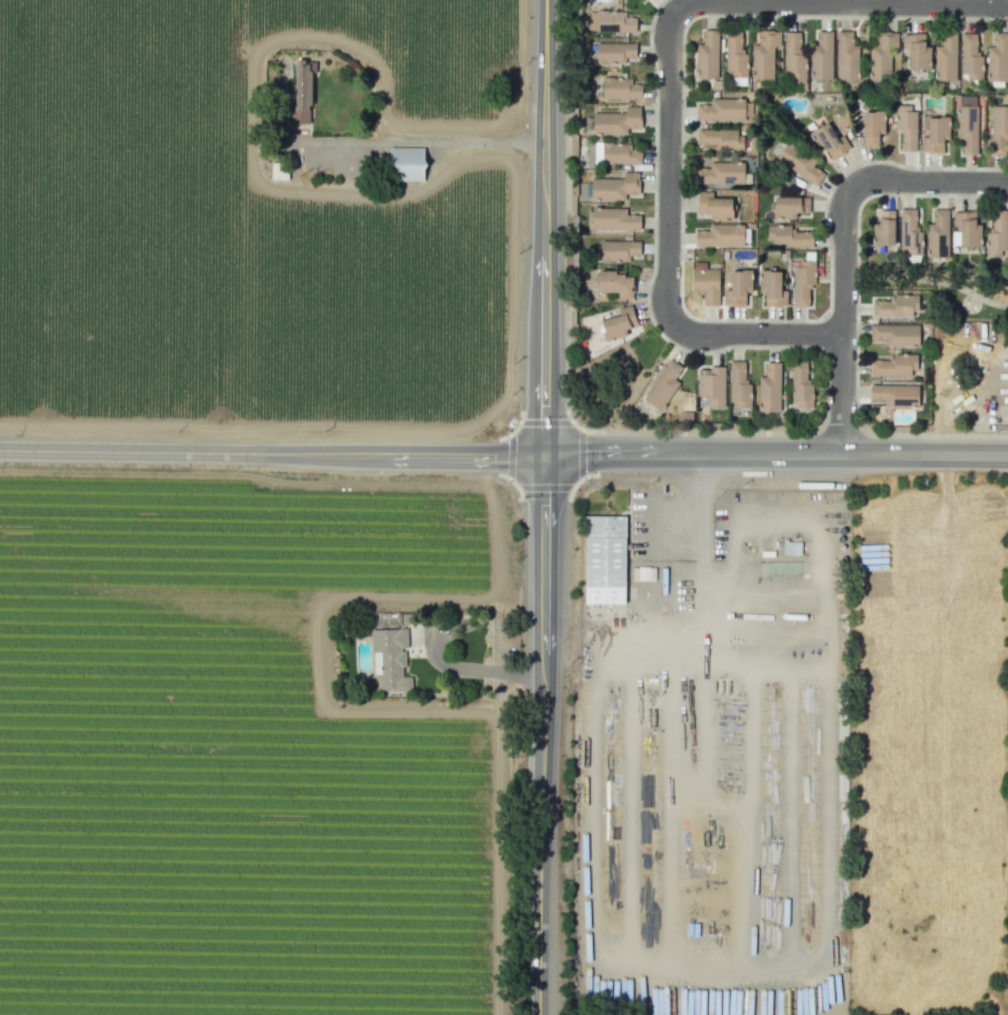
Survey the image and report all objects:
road: (839, 2)
road: (983, 2)
building: (612, 22)
building: (916, 51)
building: (614, 52)
building: (764, 54)
building: (707, 55)
building: (881, 55)
building: (735, 56)
building: (794, 57)
building: (822, 57)
building: (846, 57)
building: (945, 57)
building: (970, 58)
building: (998, 58)
building: (620, 88)
building: (301, 93)
building: (724, 110)
building: (616, 121)
building: (906, 127)
building: (872, 128)
building: (967, 128)
building: (999, 131)
building: (935, 134)
building: (719, 139)
road: (415, 141)
building: (828, 141)
building: (619, 154)
building: (406, 164)
building: (799, 164)
road: (668, 168)
building: (720, 173)
road: (930, 181)
building: (614, 187)
building: (714, 206)
building: (790, 207)
building: (614, 219)
building: (883, 229)
building: (965, 229)
building: (909, 233)
building: (996, 234)
building: (937, 235)
building: (720, 236)
building: (788, 237)
building: (618, 251)
road: (928, 279)
building: (802, 282)
building: (614, 283)
building: (704, 284)
building: (737, 287)
building: (771, 287)
park: (950, 292)
building: (895, 306)
road: (842, 319)
building: (618, 323)
building: (895, 334)
road: (758, 335)
building: (894, 365)
building: (800, 384)
building: (663, 385)
building: (738, 385)
building: (711, 386)
building: (769, 388)
building: (895, 395)
road: (271, 453)
road: (775, 454)
road: (543, 507)
building: (604, 558)
road: (702, 624)
building: (390, 659)
road: (471, 669)
road: (749, 742)
road: (671, 826)
road: (500, 843)
road: (746, 873)
road: (719, 984)

